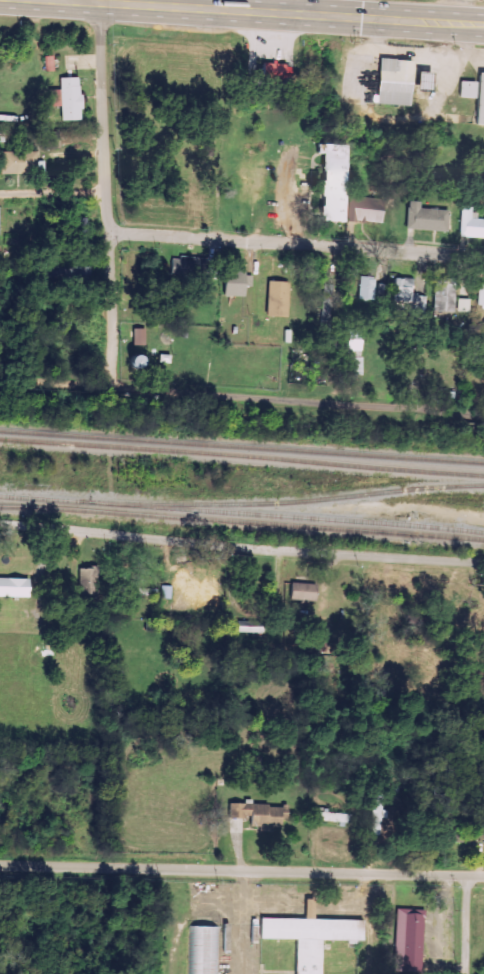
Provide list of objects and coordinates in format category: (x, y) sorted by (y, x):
road: (98, 0)
road: (282, 12)
building: (274, 71)
building: (393, 82)
building: (418, 82)
building: (466, 89)
building: (69, 98)
building: (479, 99)
building: (51, 140)
building: (18, 162)
building: (333, 182)
road: (53, 195)
road: (106, 195)
building: (365, 210)
building: (425, 218)
building: (471, 224)
road: (297, 245)
building: (188, 268)
building: (236, 283)
building: (365, 288)
building: (480, 295)
building: (442, 296)
building: (404, 297)
building: (325, 308)
building: (139, 336)
building: (353, 356)
building: (164, 359)
road: (242, 398)
railway: (242, 447)
railway: (242, 457)
railway: (287, 501)
railway: (242, 512)
railway: (242, 521)
road: (241, 549)
building: (14, 587)
building: (190, 589)
building: (302, 592)
building: (246, 627)
building: (259, 813)
building: (376, 813)
building: (332, 817)
road: (242, 871)
road: (464, 925)
building: (309, 936)
building: (409, 938)
building: (205, 950)

